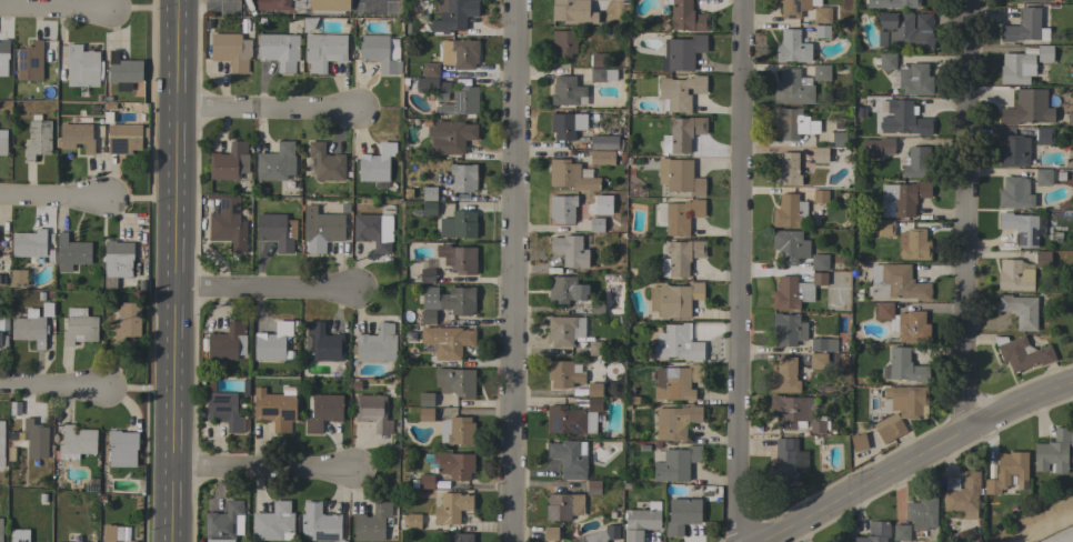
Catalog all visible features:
building: (1035, 0)
building: (1056, 0)
building: (897, 3)
road: (194, 6)
building: (304, 6)
building: (793, 8)
building: (568, 9)
road: (53, 11)
building: (452, 13)
building: (824, 16)
building: (686, 17)
building: (309, 23)
building: (1025, 27)
building: (904, 30)
building: (822, 31)
building: (563, 42)
building: (790, 46)
building: (231, 50)
building: (279, 50)
building: (323, 50)
building: (681, 51)
building: (380, 52)
building: (464, 53)
building: (1044, 53)
building: (3, 56)
building: (598, 60)
building: (30, 61)
building: (885, 61)
building: (82, 67)
building: (431, 68)
building: (1016, 69)
building: (123, 71)
building: (821, 73)
building: (601, 74)
building: (914, 79)
building: (431, 86)
building: (792, 88)
building: (568, 91)
building: (680, 91)
building: (461, 102)
building: (1022, 109)
road: (264, 111)
building: (860, 113)
building: (902, 118)
building: (1070, 119)
building: (790, 122)
building: (566, 124)
building: (682, 133)
building: (81, 134)
building: (1043, 135)
building: (450, 137)
building: (38, 138)
building: (123, 138)
building: (838, 139)
building: (2, 142)
building: (605, 142)
building: (878, 148)
building: (1014, 151)
building: (820, 155)
building: (601, 157)
building: (229, 162)
building: (275, 162)
building: (325, 162)
building: (916, 162)
building: (377, 163)
building: (786, 170)
building: (572, 175)
building: (679, 177)
building: (1043, 177)
building: (462, 178)
building: (429, 193)
building: (1014, 193)
building: (820, 195)
road: (53, 198)
building: (902, 198)
building: (602, 204)
building: (429, 209)
building: (562, 209)
building: (789, 210)
building: (679, 215)
road: (964, 215)
building: (228, 223)
building: (458, 224)
building: (596, 224)
building: (374, 228)
building: (884, 228)
building: (1021, 228)
building: (321, 229)
building: (277, 231)
building: (29, 243)
building: (913, 244)
building: (789, 247)
building: (570, 250)
building: (71, 252)
building: (681, 257)
building: (118, 258)
building: (458, 258)
building: (1042, 259)
building: (819, 262)
road: (517, 270)
road: (173, 271)
road: (741, 271)
building: (427, 273)
building: (1014, 275)
building: (18, 278)
building: (896, 282)
building: (564, 289)
building: (795, 290)
road: (261, 294)
building: (673, 299)
building: (449, 300)
building: (596, 307)
building: (47, 309)
building: (1019, 310)
building: (428, 317)
building: (128, 321)
building: (904, 323)
building: (79, 327)
building: (30, 328)
building: (564, 329)
building: (789, 329)
building: (0, 337)
building: (448, 341)
building: (275, 342)
building: (225, 343)
building: (322, 343)
building: (678, 343)
building: (377, 344)
building: (823, 344)
building: (595, 348)
building: (1021, 353)
building: (818, 361)
building: (903, 367)
building: (563, 374)
building: (784, 375)
building: (454, 381)
building: (679, 383)
road: (50, 387)
building: (594, 390)
building: (425, 399)
building: (909, 400)
building: (274, 409)
building: (224, 410)
building: (323, 411)
building: (372, 412)
building: (795, 412)
building: (425, 414)
building: (572, 418)
building: (675, 421)
building: (889, 428)
building: (457, 431)
building: (11, 439)
building: (36, 439)
building: (858, 439)
building: (78, 441)
building: (1, 443)
building: (122, 448)
building: (1053, 451)
building: (569, 459)
road: (906, 459)
building: (788, 461)
building: (676, 463)
building: (453, 464)
building: (1007, 472)
road: (260, 474)
building: (425, 481)
building: (592, 486)
building: (962, 494)
building: (563, 506)
building: (450, 508)
building: (922, 513)
building: (681, 515)
building: (413, 521)
building: (641, 521)
building: (223, 522)
building: (273, 523)
building: (319, 523)
building: (372, 523)
road: (1043, 526)
building: (1, 530)
building: (874, 532)
building: (901, 532)
building: (111, 533)
building: (550, 533)
building: (19, 534)
building: (603, 534)
building: (458, 538)

